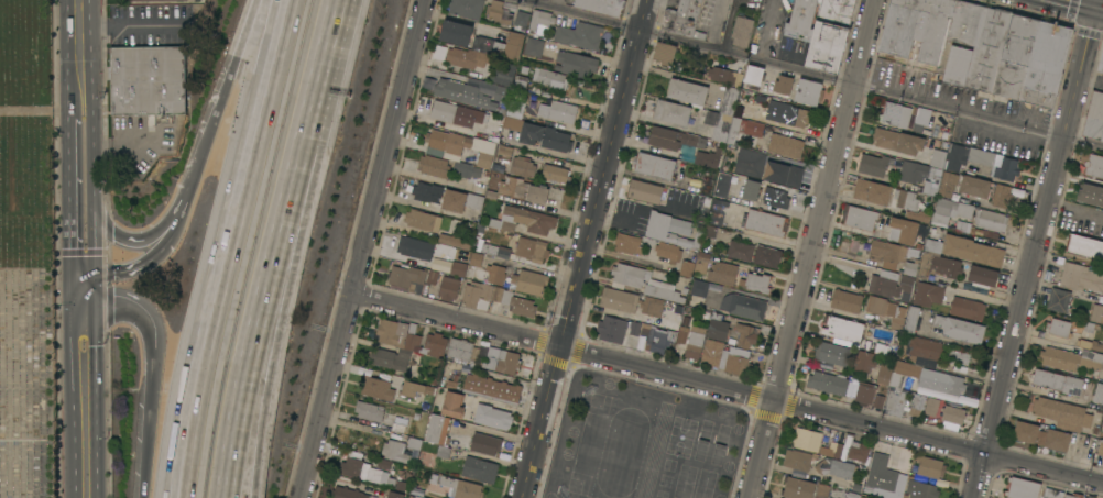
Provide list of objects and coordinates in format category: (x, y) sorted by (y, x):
building: (145, 0)
road: (1078, 3)
building: (601, 5)
building: (467, 8)
traffic signals: (1094, 8)
road: (1099, 8)
building: (499, 12)
road: (581, 14)
road: (644, 14)
building: (801, 16)
building: (681, 18)
building: (522, 19)
building: (539, 21)
building: (964, 22)
road: (131, 24)
building: (917, 27)
building: (742, 31)
building: (455, 32)
building: (829, 34)
building: (580, 35)
building: (501, 44)
building: (534, 46)
building: (987, 48)
building: (438, 51)
building: (665, 52)
road: (80, 55)
building: (1016, 55)
building: (465, 57)
building: (1101, 63)
building: (576, 64)
building: (1047, 64)
building: (957, 65)
road: (229, 70)
building: (503, 73)
building: (722, 75)
building: (754, 75)
building: (549, 78)
building: (148, 80)
building: (521, 82)
building: (783, 85)
road: (871, 89)
building: (458, 91)
building: (687, 91)
building: (808, 91)
building: (502, 93)
building: (729, 100)
building: (752, 100)
building: (515, 108)
road: (40, 110)
building: (559, 111)
building: (671, 112)
building: (456, 113)
road: (81, 114)
building: (787, 115)
building: (899, 115)
road: (310, 117)
building: (1094, 117)
building: (512, 123)
building: (722, 125)
building: (751, 128)
building: (531, 133)
building: (673, 139)
building: (556, 140)
building: (898, 141)
building: (785, 145)
building: (459, 146)
building: (981, 155)
building: (503, 156)
building: (687, 157)
building: (708, 157)
building: (954, 157)
building: (937, 158)
building: (750, 162)
building: (874, 164)
building: (1092, 164)
building: (522, 165)
building: (654, 165)
road: (83, 166)
building: (434, 166)
building: (466, 169)
building: (1006, 169)
building: (556, 170)
building: (776, 173)
building: (795, 176)
building: (920, 177)
road: (189, 179)
building: (948, 184)
building: (722, 185)
building: (513, 186)
building: (708, 186)
building: (974, 186)
building: (751, 189)
building: (426, 191)
building: (645, 191)
building: (872, 191)
building: (537, 193)
building: (1002, 195)
building: (1094, 196)
building: (776, 197)
building: (908, 199)
building: (460, 200)
building: (950, 210)
building: (717, 211)
building: (917, 214)
building: (859, 217)
building: (532, 219)
building: (423, 220)
building: (991, 220)
building: (765, 222)
building: (962, 226)
building: (673, 230)
building: (903, 230)
building: (710, 231)
road: (129, 240)
building: (455, 241)
building: (627, 243)
building: (932, 245)
building: (1084, 246)
road: (229, 247)
building: (415, 247)
road: (84, 248)
road: (364, 248)
building: (532, 248)
road: (812, 248)
road: (1035, 248)
building: (740, 250)
building: (972, 250)
building: (494, 251)
building: (668, 251)
building: (887, 252)
park: (29, 253)
building: (767, 256)
building: (476, 258)
building: (701, 262)
road: (581, 263)
road: (142, 265)
building: (941, 265)
building: (910, 267)
building: (458, 268)
building: (687, 268)
building: (722, 273)
building: (492, 274)
building: (432, 276)
building: (982, 276)
building: (1081, 277)
building: (407, 278)
building: (529, 281)
building: (643, 281)
building: (756, 283)
traffic signals: (85, 285)
building: (892, 285)
building: (699, 287)
building: (448, 288)
building: (928, 294)
building: (478, 295)
building: (619, 299)
building: (1058, 299)
building: (845, 300)
building: (514, 301)
building: (652, 306)
building: (744, 306)
building: (968, 308)
building: (884, 310)
building: (1096, 313)
building: (673, 319)
building: (910, 319)
building: (718, 325)
building: (1059, 327)
building: (842, 328)
building: (616, 329)
building: (684, 330)
building: (963, 330)
building: (746, 334)
building: (657, 337)
building: (695, 342)
building: (1089, 344)
building: (404, 345)
building: (462, 348)
building: (922, 350)
building: (832, 353)
building: (724, 357)
building: (1071, 358)
building: (503, 361)
building: (864, 361)
road: (251, 364)
road: (266, 365)
building: (1102, 368)
road: (154, 369)
building: (884, 373)
building: (1057, 381)
building: (950, 383)
building: (913, 385)
building: (842, 386)
building: (378, 388)
building: (416, 388)
road: (728, 388)
building: (491, 389)
road: (86, 390)
building: (1099, 392)
building: (895, 400)
building: (876, 401)
building: (454, 405)
building: (917, 405)
building: (931, 406)
building: (953, 413)
building: (1062, 413)
building: (381, 416)
building: (490, 416)
building: (1102, 430)
building: (439, 434)
building: (1041, 435)
building: (807, 439)
building: (485, 443)
building: (1100, 446)
building: (1089, 447)
building: (402, 450)
building: (832, 450)
building: (858, 451)
building: (798, 458)
building: (930, 466)
building: (359, 467)
building: (837, 468)
building: (480, 469)
building: (883, 477)
building: (433, 478)
building: (461, 487)
building: (798, 488)
building: (1022, 488)
building: (822, 489)
building: (926, 491)
building: (347, 493)
building: (1052, 493)
building: (394, 495)
building: (416, 496)
building: (1073, 496)
building: (1090, 496)
building: (1083, 497)
building: (1084, 497)

